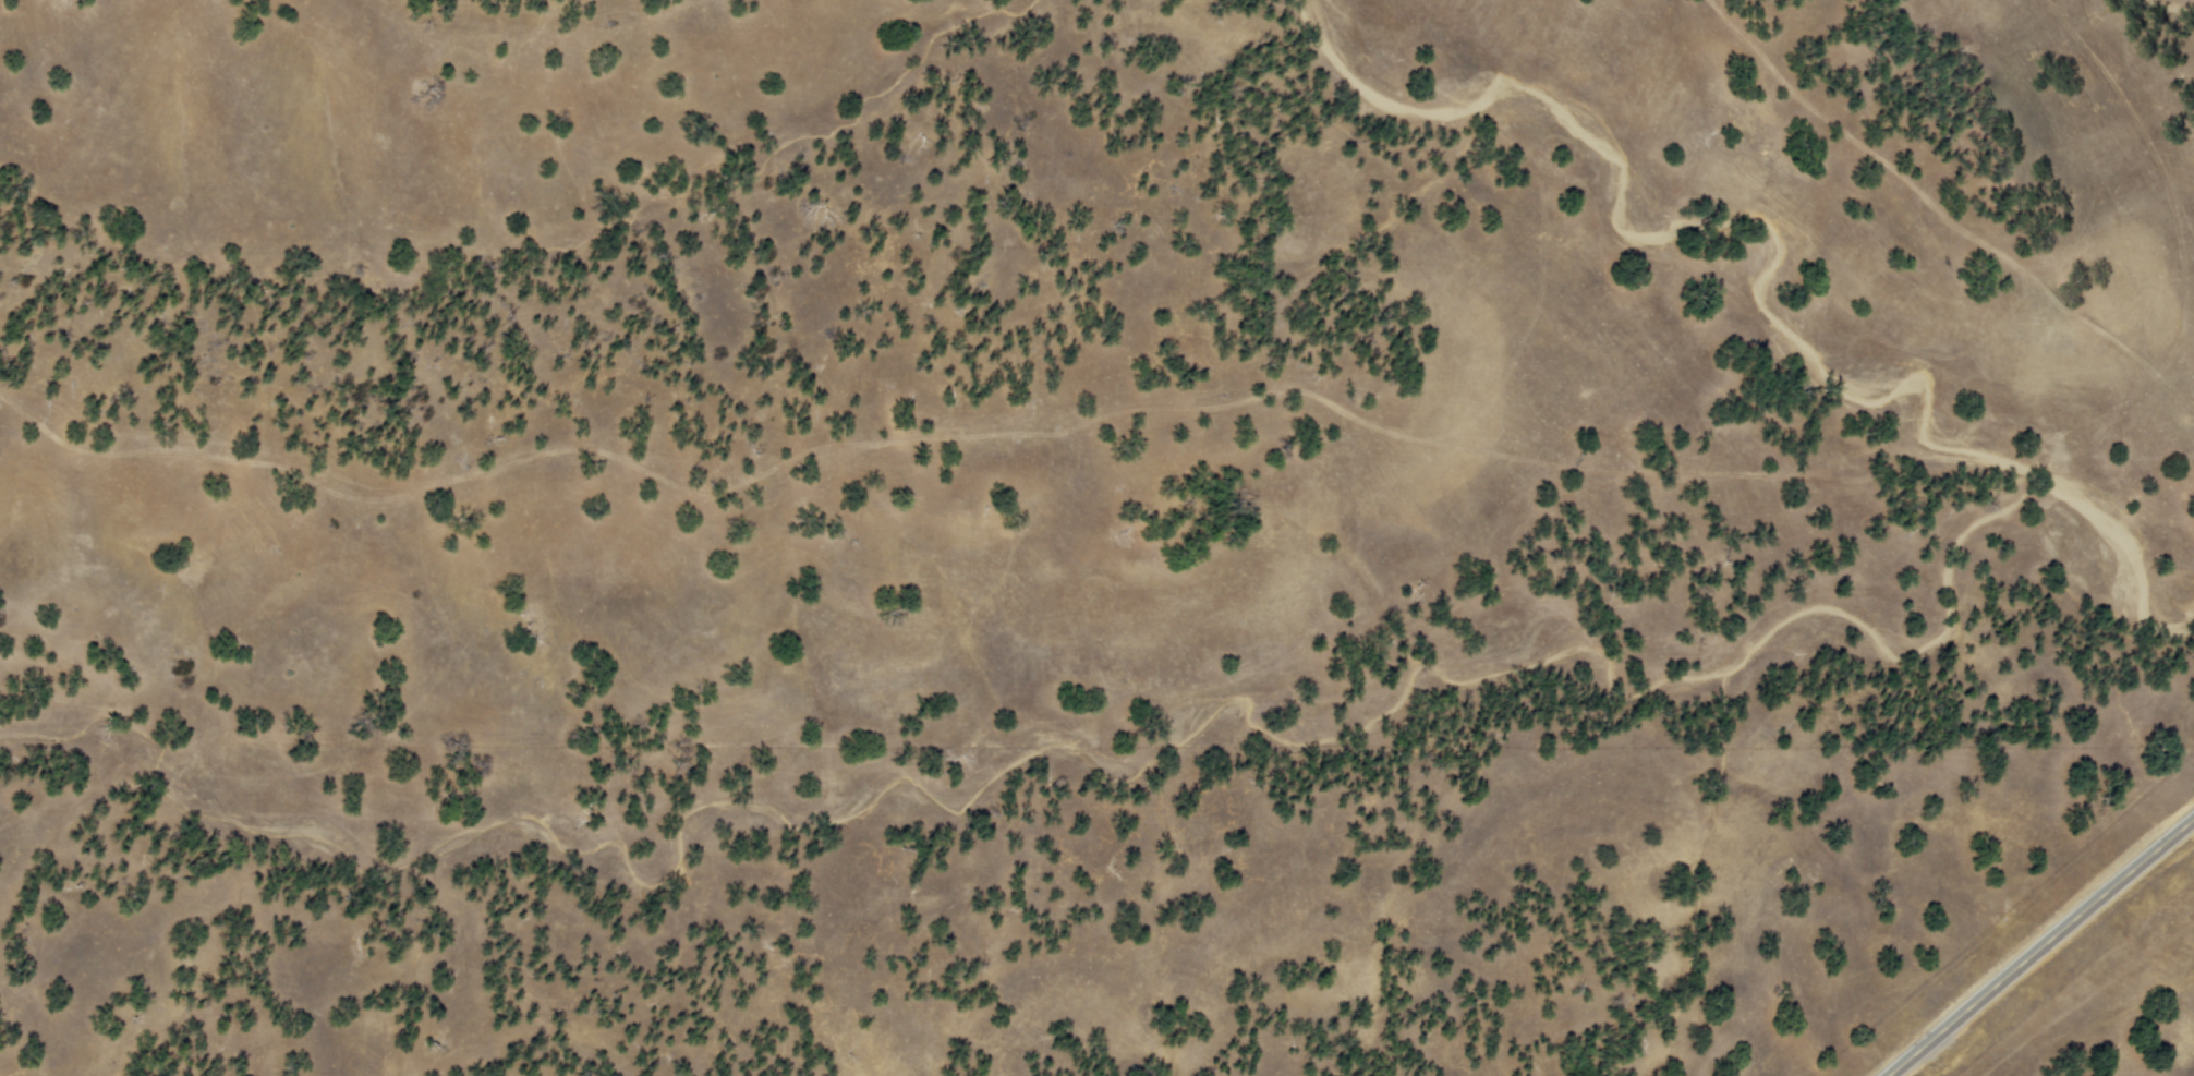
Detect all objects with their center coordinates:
road: (2041, 947)

